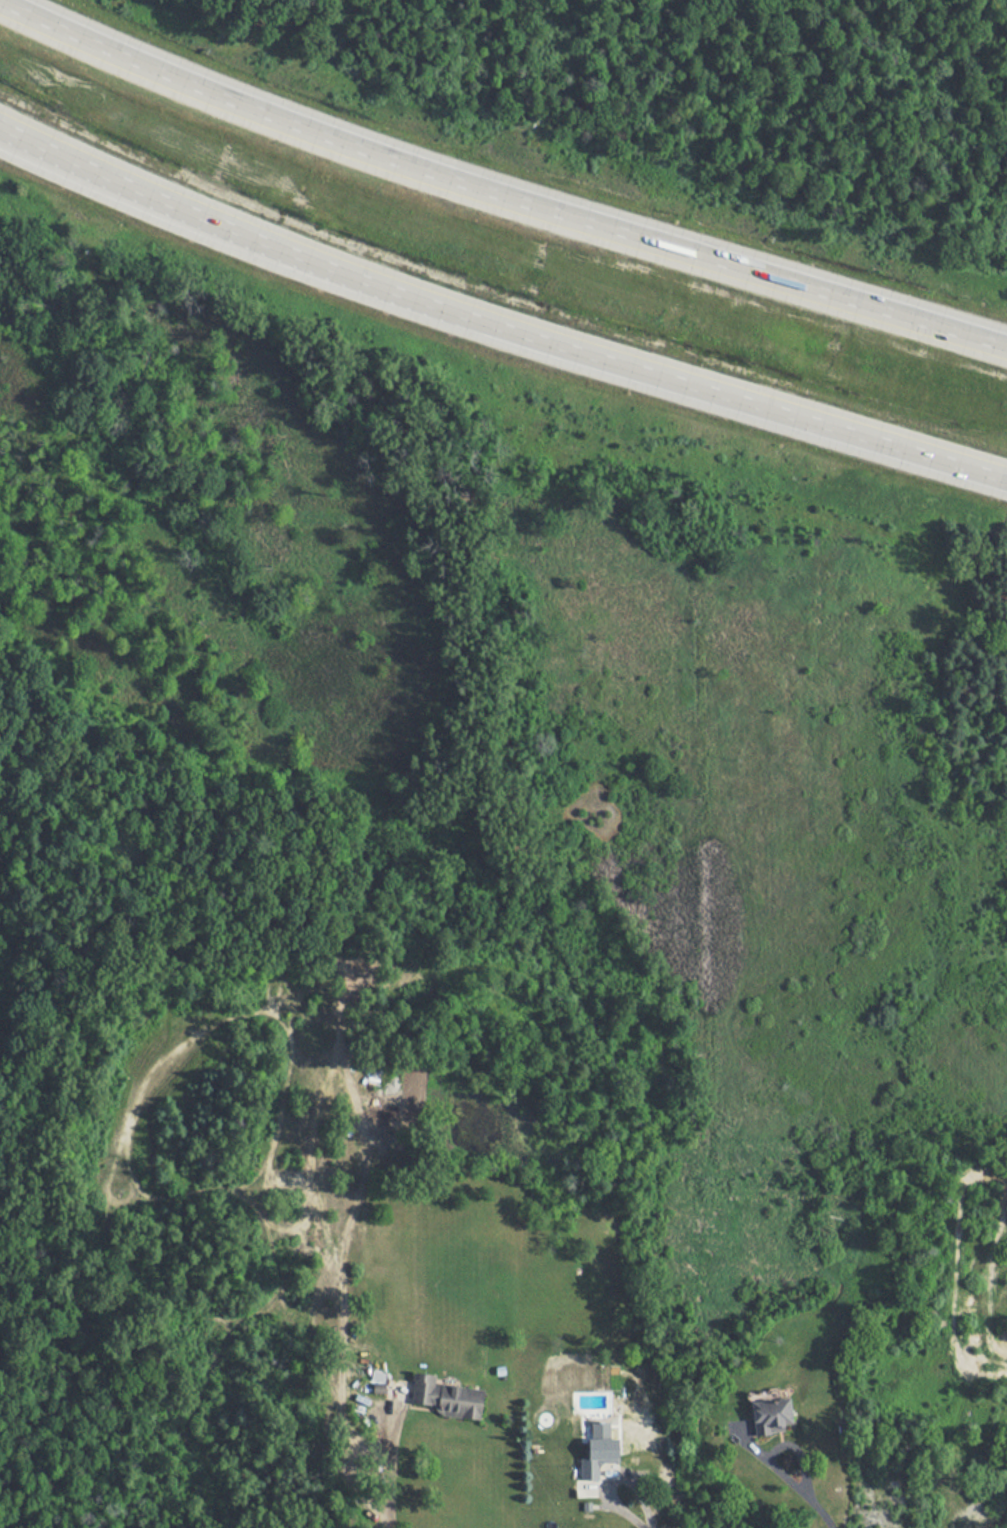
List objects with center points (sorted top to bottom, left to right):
road: (497, 205)
road: (496, 339)
building: (447, 1395)
building: (774, 1416)
building: (602, 1454)
road: (389, 1464)
road: (789, 1473)
road: (627, 1506)

